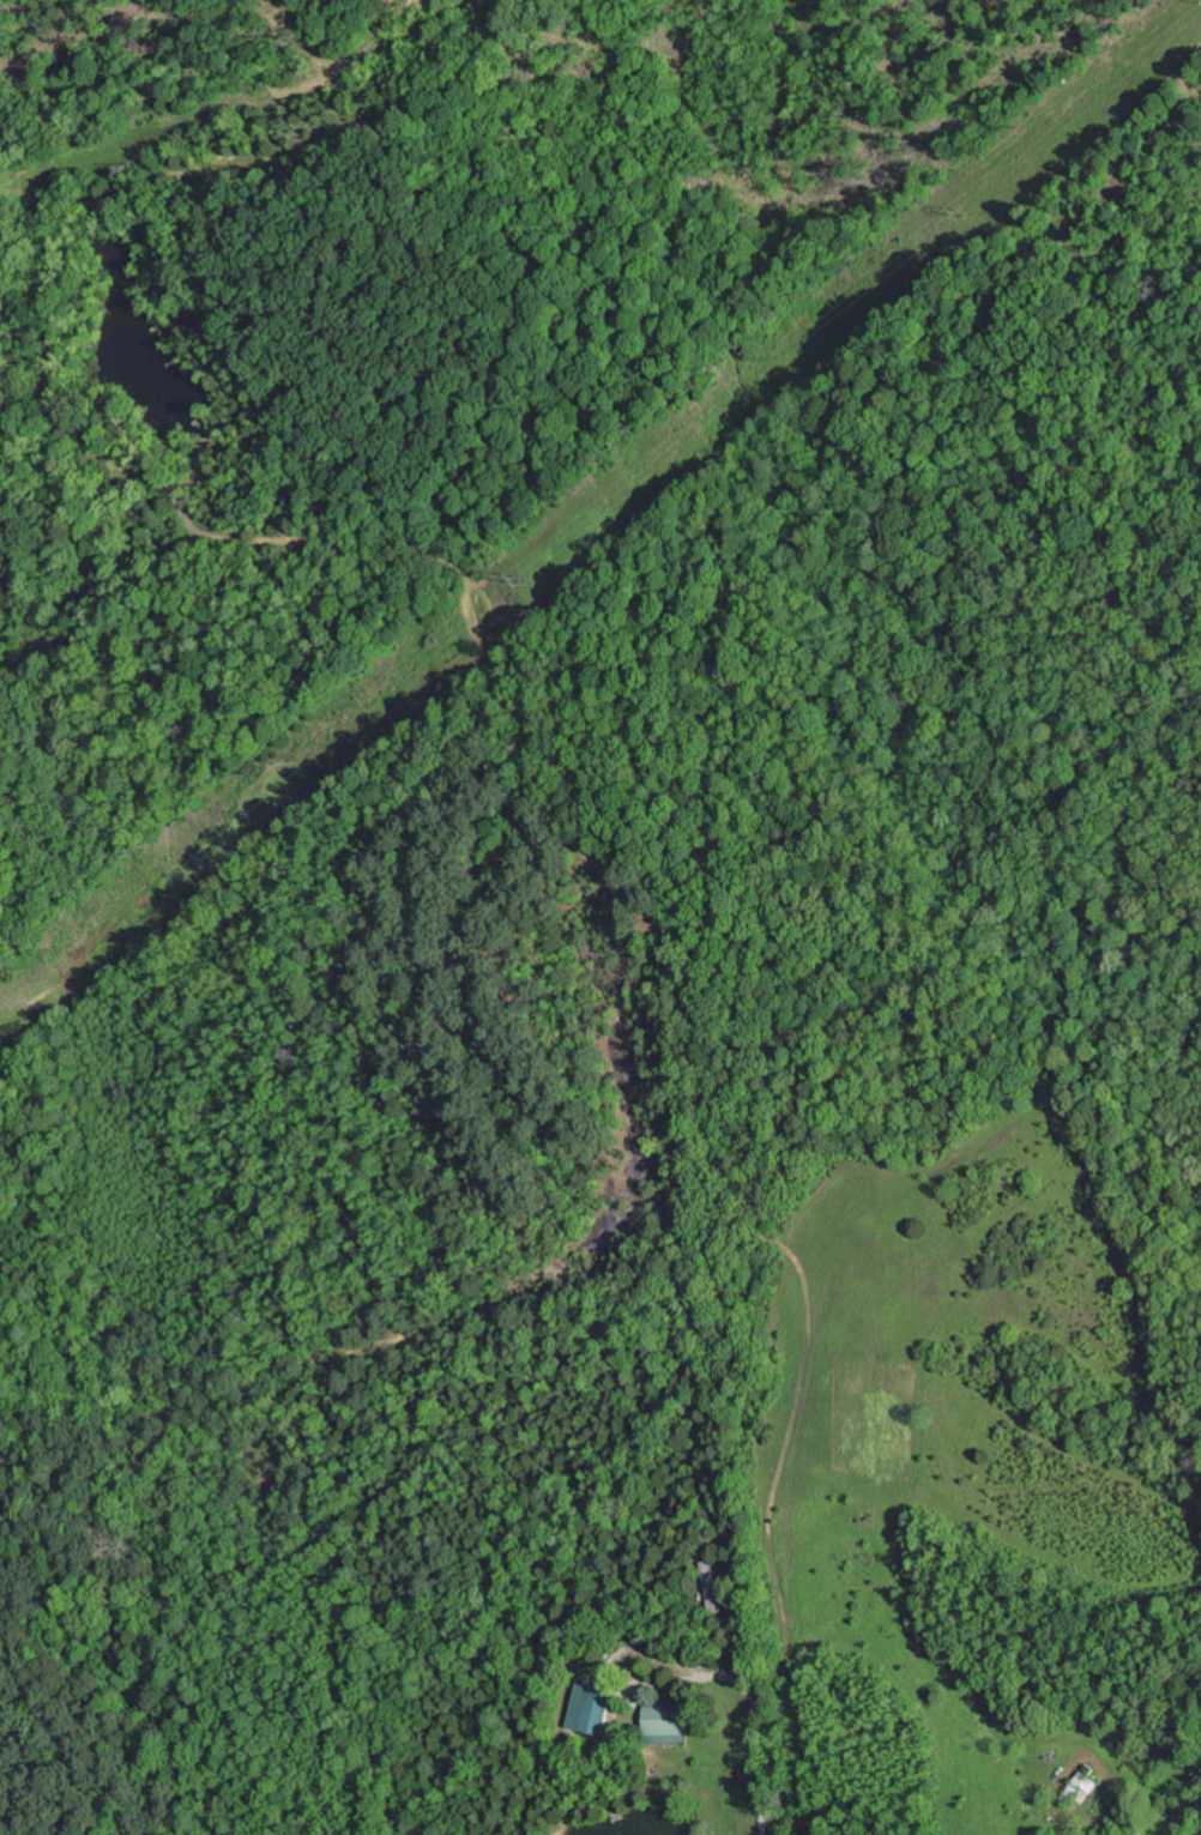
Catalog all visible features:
road: (345, 1535)
building: (585, 1710)

